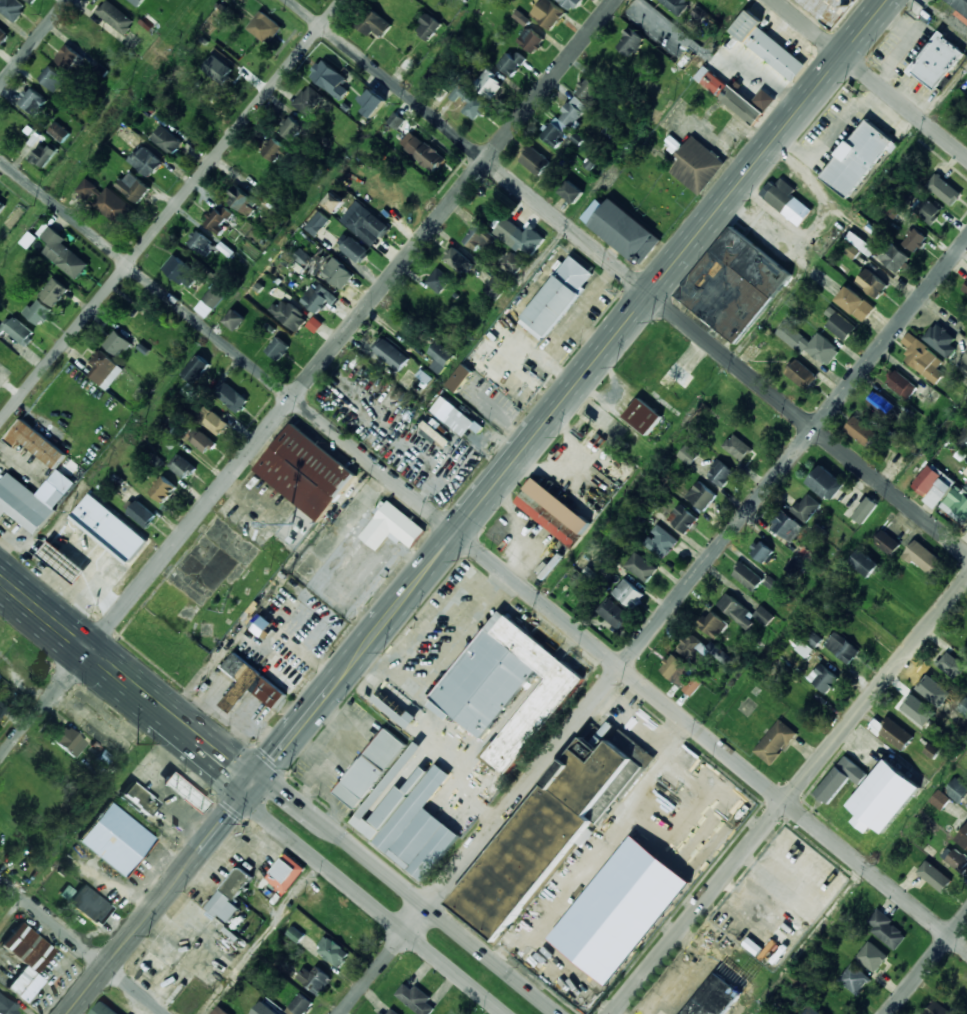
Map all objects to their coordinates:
building: (242, 0)
building: (30, 1)
building: (134, 2)
building: (571, 3)
building: (675, 4)
building: (960, 8)
building: (11, 9)
building: (829, 9)
building: (700, 12)
building: (548, 13)
building: (114, 19)
building: (147, 21)
building: (373, 23)
building: (265, 27)
building: (428, 27)
building: (3, 36)
building: (531, 40)
road: (34, 42)
building: (630, 42)
road: (911, 42)
building: (769, 46)
building: (68, 58)
road: (720, 59)
building: (511, 62)
building: (939, 62)
building: (408, 63)
building: (226, 73)
building: (52, 78)
road: (870, 78)
building: (330, 79)
building: (711, 80)
building: (489, 84)
building: (590, 89)
building: (765, 99)
building: (308, 100)
building: (32, 101)
building: (373, 103)
building: (473, 106)
building: (741, 106)
building: (574, 111)
building: (396, 120)
building: (292, 128)
building: (59, 132)
building: (553, 133)
road: (830, 135)
building: (168, 140)
building: (273, 149)
building: (45, 155)
building: (430, 157)
building: (535, 160)
building: (146, 161)
building: (856, 161)
building: (698, 166)
building: (133, 187)
building: (952, 189)
building: (571, 191)
building: (241, 199)
building: (788, 201)
building: (107, 202)
building: (2, 205)
road: (306, 210)
road: (170, 211)
building: (928, 211)
road: (715, 213)
building: (220, 219)
building: (317, 223)
building: (368, 226)
building: (626, 231)
building: (523, 236)
building: (479, 237)
building: (915, 239)
building: (201, 243)
building: (861, 243)
building: (226, 250)
building: (356, 250)
building: (63, 253)
building: (303, 257)
building: (894, 257)
building: (321, 259)
building: (458, 261)
building: (516, 263)
building: (181, 271)
building: (338, 274)
road: (628, 276)
building: (438, 280)
building: (871, 283)
building: (734, 284)
building: (497, 287)
building: (965, 288)
building: (54, 292)
building: (216, 294)
building: (316, 298)
building: (856, 304)
building: (552, 305)
building: (424, 309)
building: (38, 312)
building: (289, 315)
building: (235, 320)
building: (315, 324)
building: (842, 327)
building: (19, 330)
road: (565, 331)
road: (589, 335)
building: (941, 340)
building: (117, 343)
building: (808, 343)
building: (278, 349)
building: (392, 356)
building: (440, 357)
building: (923, 358)
building: (964, 364)
building: (102, 367)
building: (197, 369)
building: (3, 373)
building: (802, 375)
building: (676, 376)
building: (459, 377)
road: (307, 379)
building: (902, 384)
building: (232, 398)
building: (881, 405)
building: (452, 416)
road: (502, 416)
building: (644, 416)
building: (217, 421)
building: (860, 431)
building: (430, 432)
building: (962, 437)
building: (37, 443)
building: (203, 443)
building: (739, 449)
building: (688, 455)
building: (183, 467)
building: (965, 471)
building: (306, 472)
building: (721, 473)
road: (500, 479)
building: (927, 479)
building: (825, 482)
building: (966, 486)
building: (162, 489)
building: (702, 496)
building: (958, 502)
building: (23, 504)
building: (806, 508)
building: (865, 510)
building: (553, 512)
building: (142, 514)
building: (683, 519)
building: (110, 527)
building: (392, 527)
building: (787, 527)
building: (660, 542)
building: (887, 542)
road: (483, 552)
building: (761, 552)
building: (923, 558)
building: (61, 561)
building: (865, 563)
building: (111, 566)
building: (641, 567)
building: (747, 577)
building: (771, 582)
building: (631, 596)
road: (401, 602)
building: (743, 613)
building: (615, 615)
building: (260, 624)
building: (713, 625)
road: (653, 627)
road: (64, 632)
building: (814, 639)
building: (691, 647)
building: (842, 648)
building: (804, 649)
building: (951, 666)
building: (682, 675)
building: (823, 679)
building: (250, 684)
building: (506, 689)
building: (931, 690)
building: (963, 708)
building: (397, 709)
building: (0, 710)
building: (912, 713)
road: (298, 728)
road: (191, 734)
building: (896, 735)
building: (775, 742)
building: (68, 743)
building: (840, 779)
traffic signals: (253, 784)
road: (267, 786)
building: (31, 788)
building: (957, 790)
building: (183, 793)
gas station: (183, 793)
road: (256, 794)
road: (789, 796)
building: (883, 798)
building: (139, 799)
building: (940, 799)
building: (399, 804)
road: (305, 809)
road: (219, 827)
building: (551, 837)
building: (963, 838)
building: (115, 839)
building: (958, 861)
building: (284, 875)
building: (939, 881)
building: (276, 897)
building: (89, 905)
road: (385, 909)
road: (440, 922)
building: (344, 930)
building: (886, 930)
building: (199, 936)
road: (126, 941)
road: (81, 947)
building: (333, 951)
building: (873, 956)
building: (24, 960)
road: (927, 964)
building: (315, 978)
building: (854, 978)
building: (960, 984)
building: (722, 990)
building: (197, 998)
building: (416, 998)
building: (259, 1004)
building: (300, 1005)
building: (6, 1007)
building: (938, 1008)
building: (103, 1010)
building: (811, 1010)
building: (220, 1011)
building: (391, 1012)

